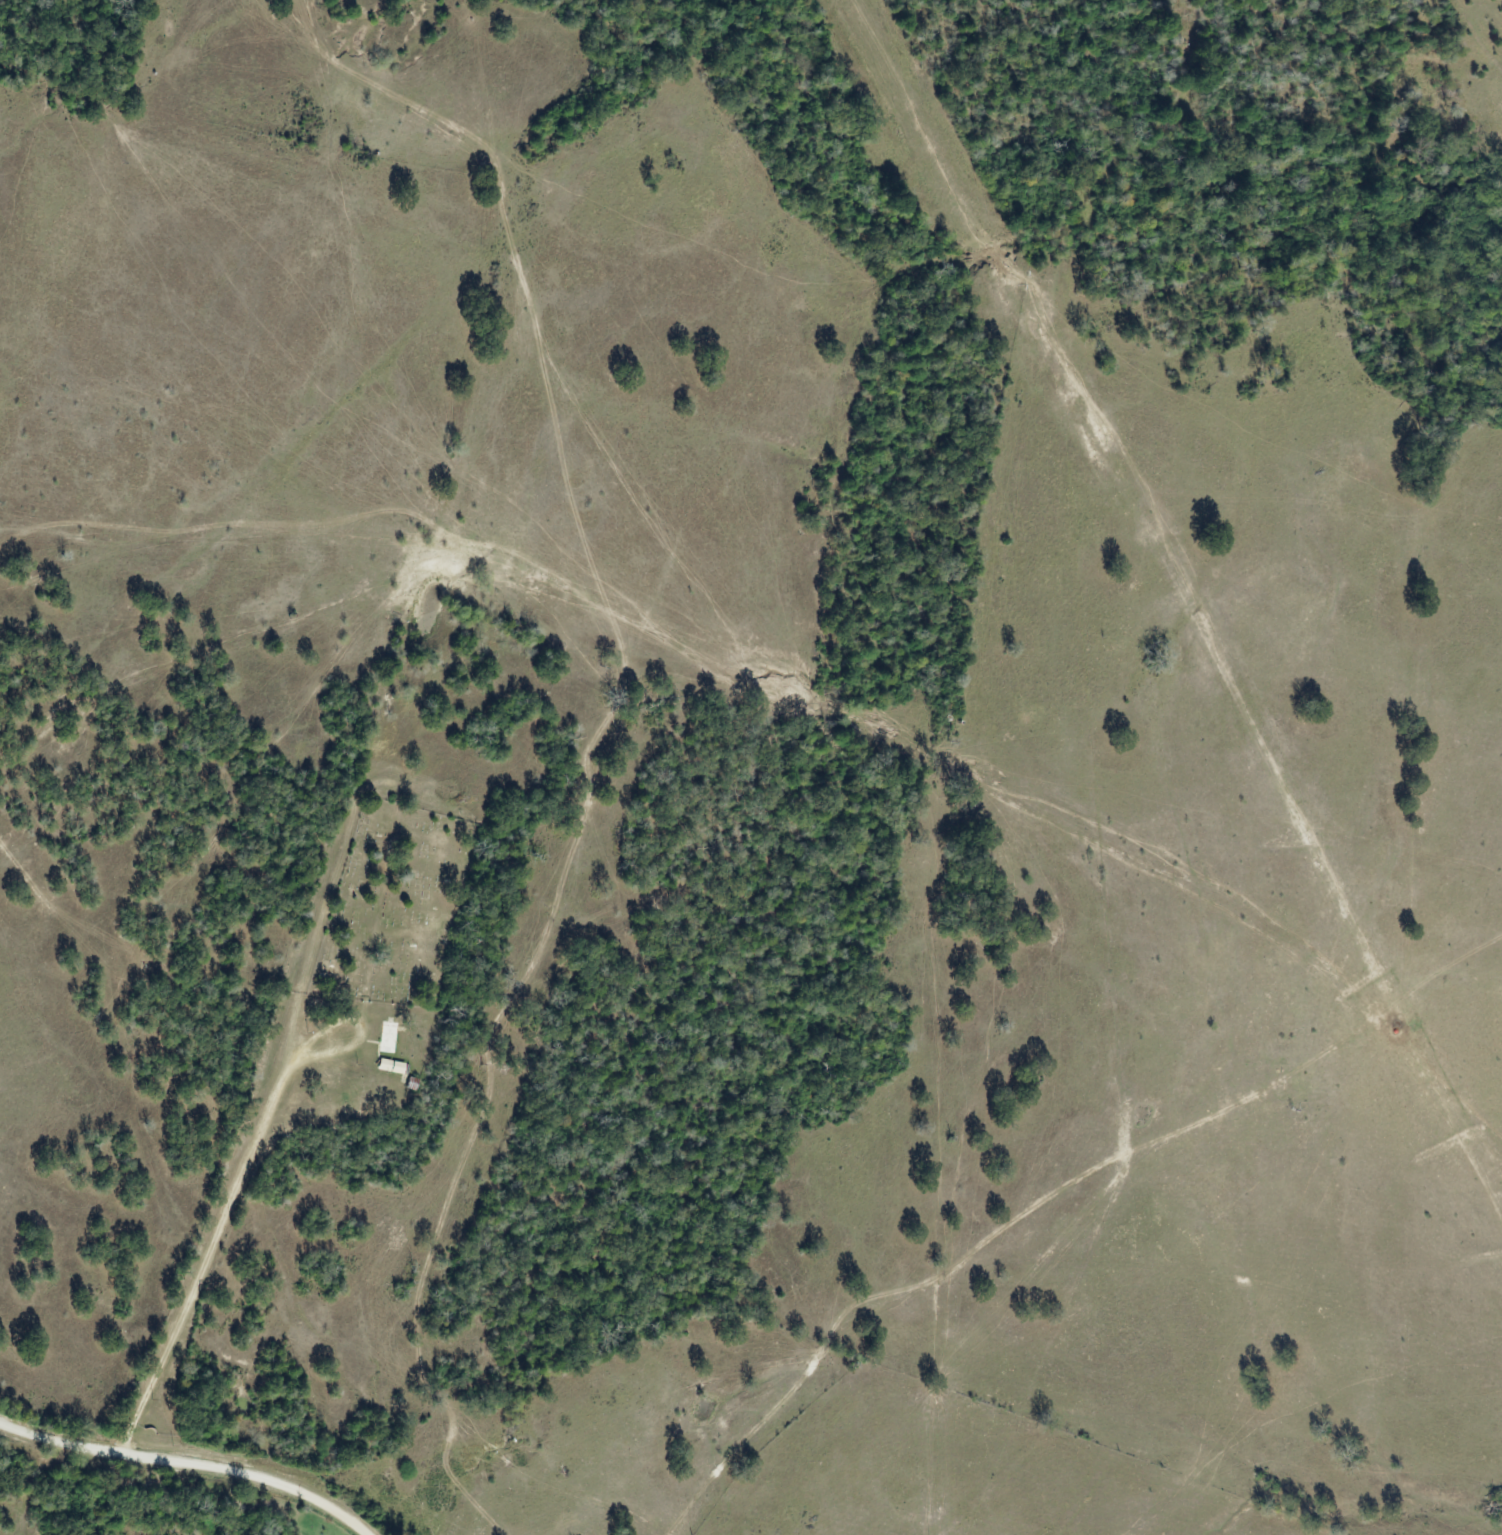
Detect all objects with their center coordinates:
road: (754, 685)
park: (398, 911)
road: (192, 1266)
road: (187, 1464)

